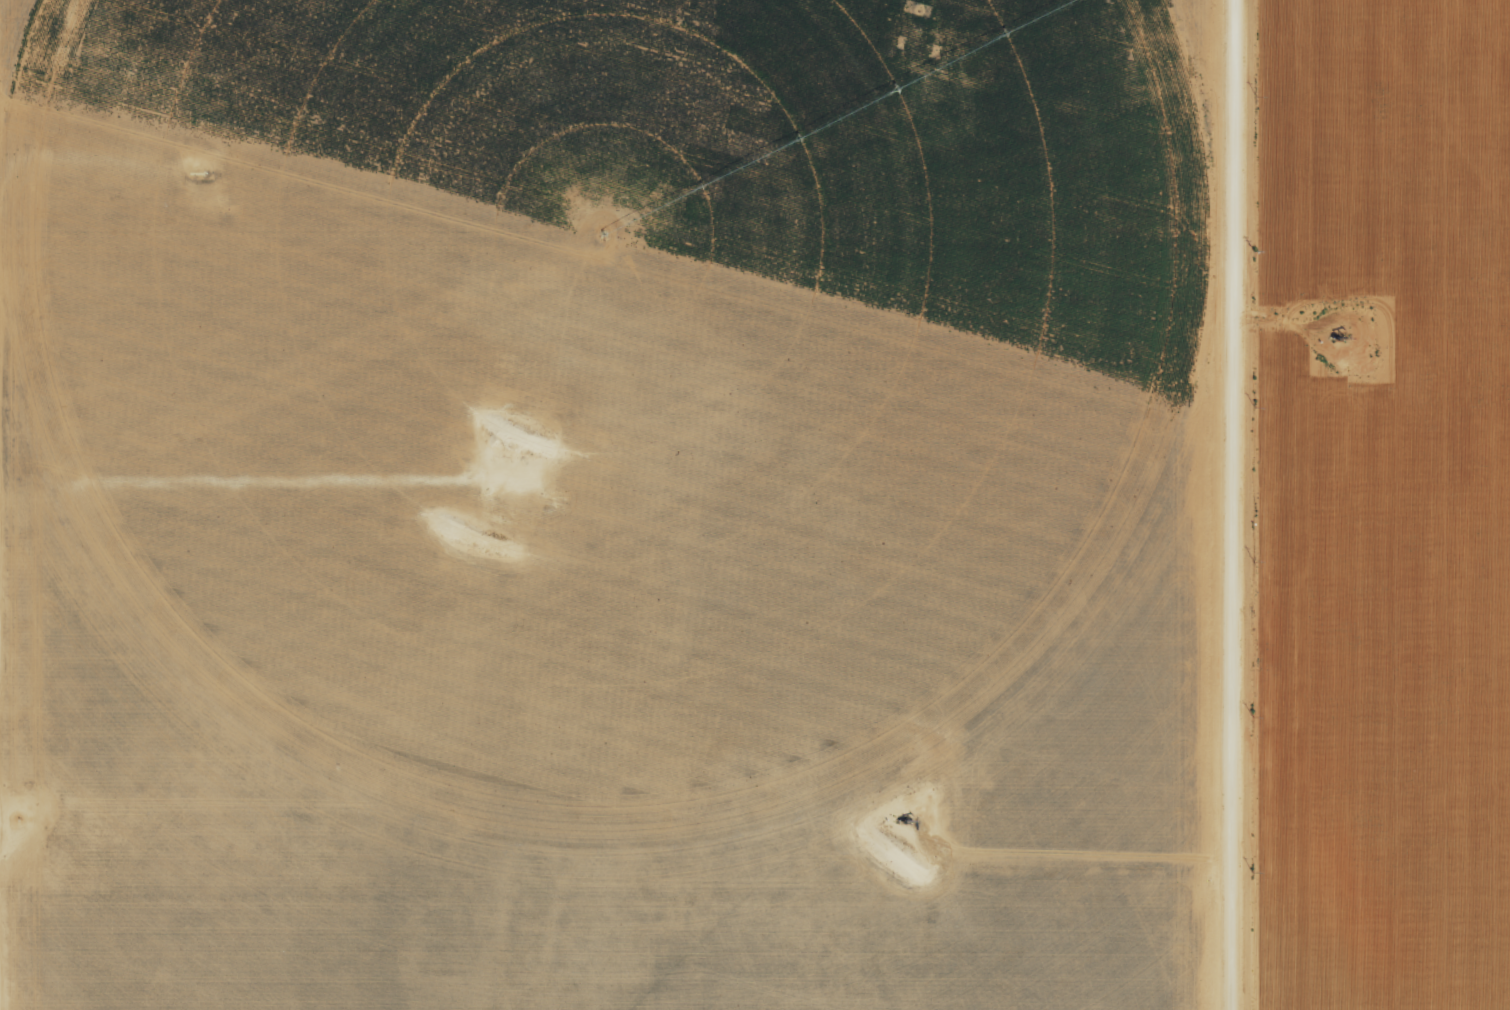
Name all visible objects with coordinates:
road: (3, 426)
road: (1249, 504)
petroleum well: (901, 820)

